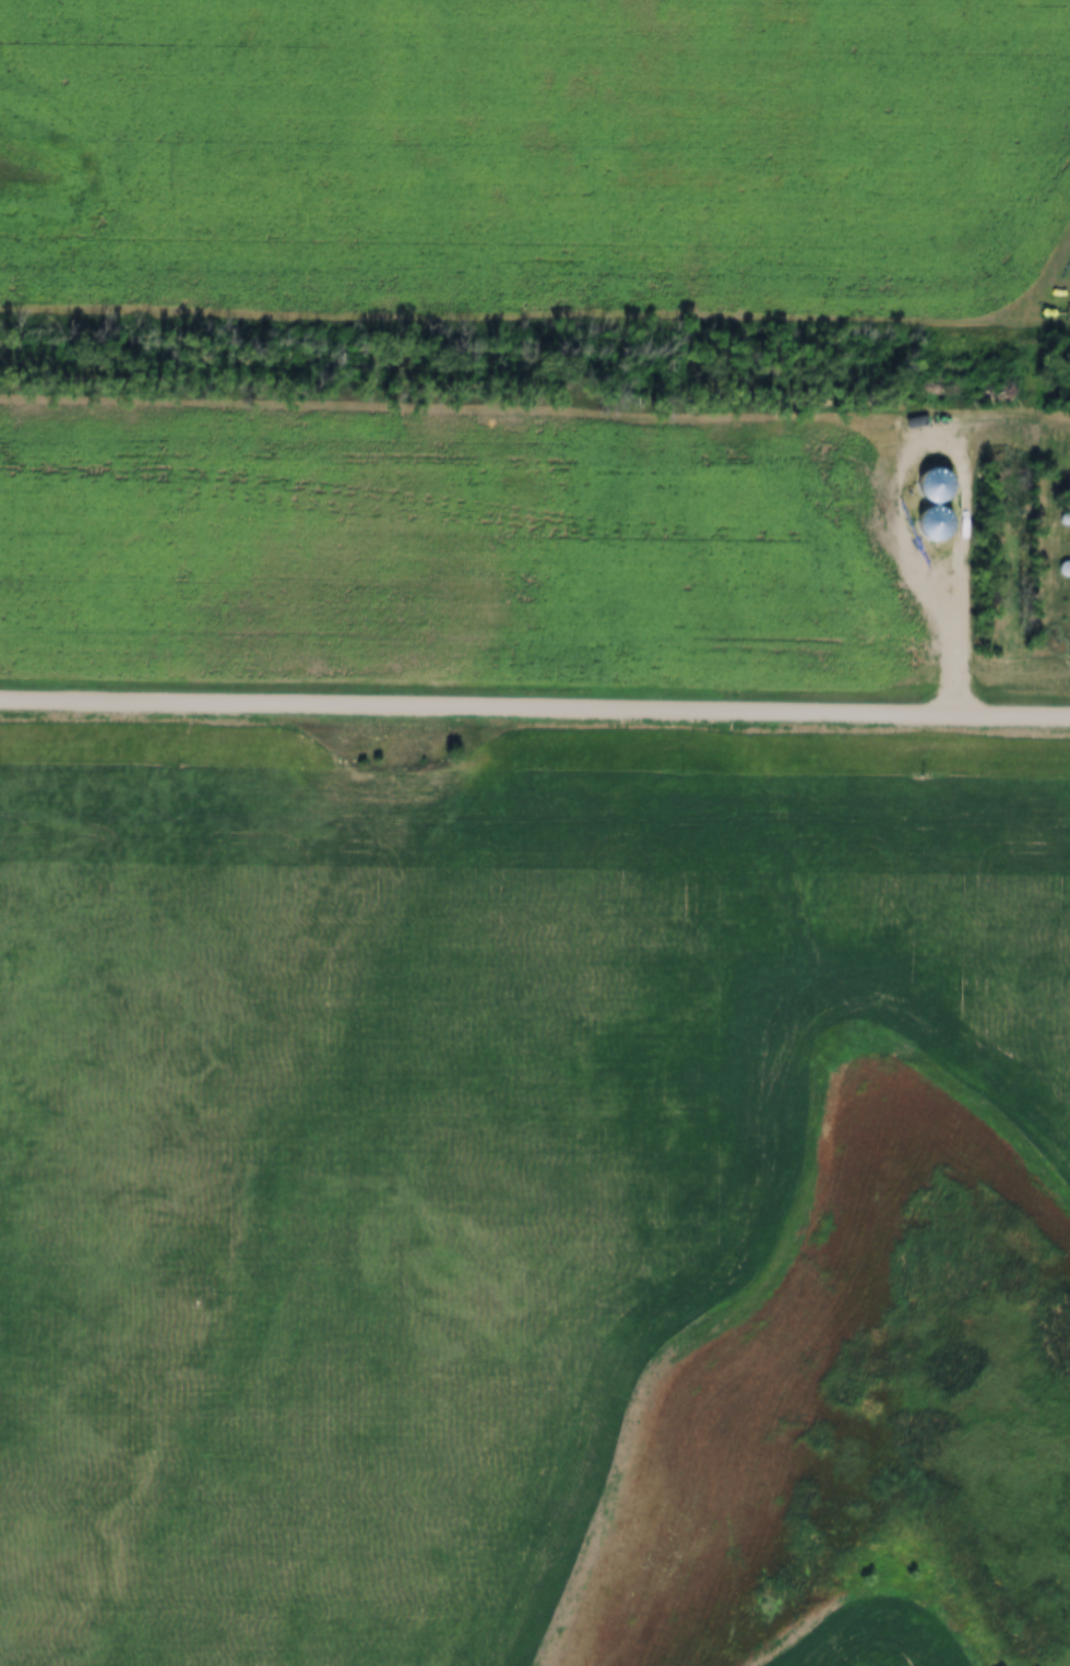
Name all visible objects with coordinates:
road: (535, 707)

